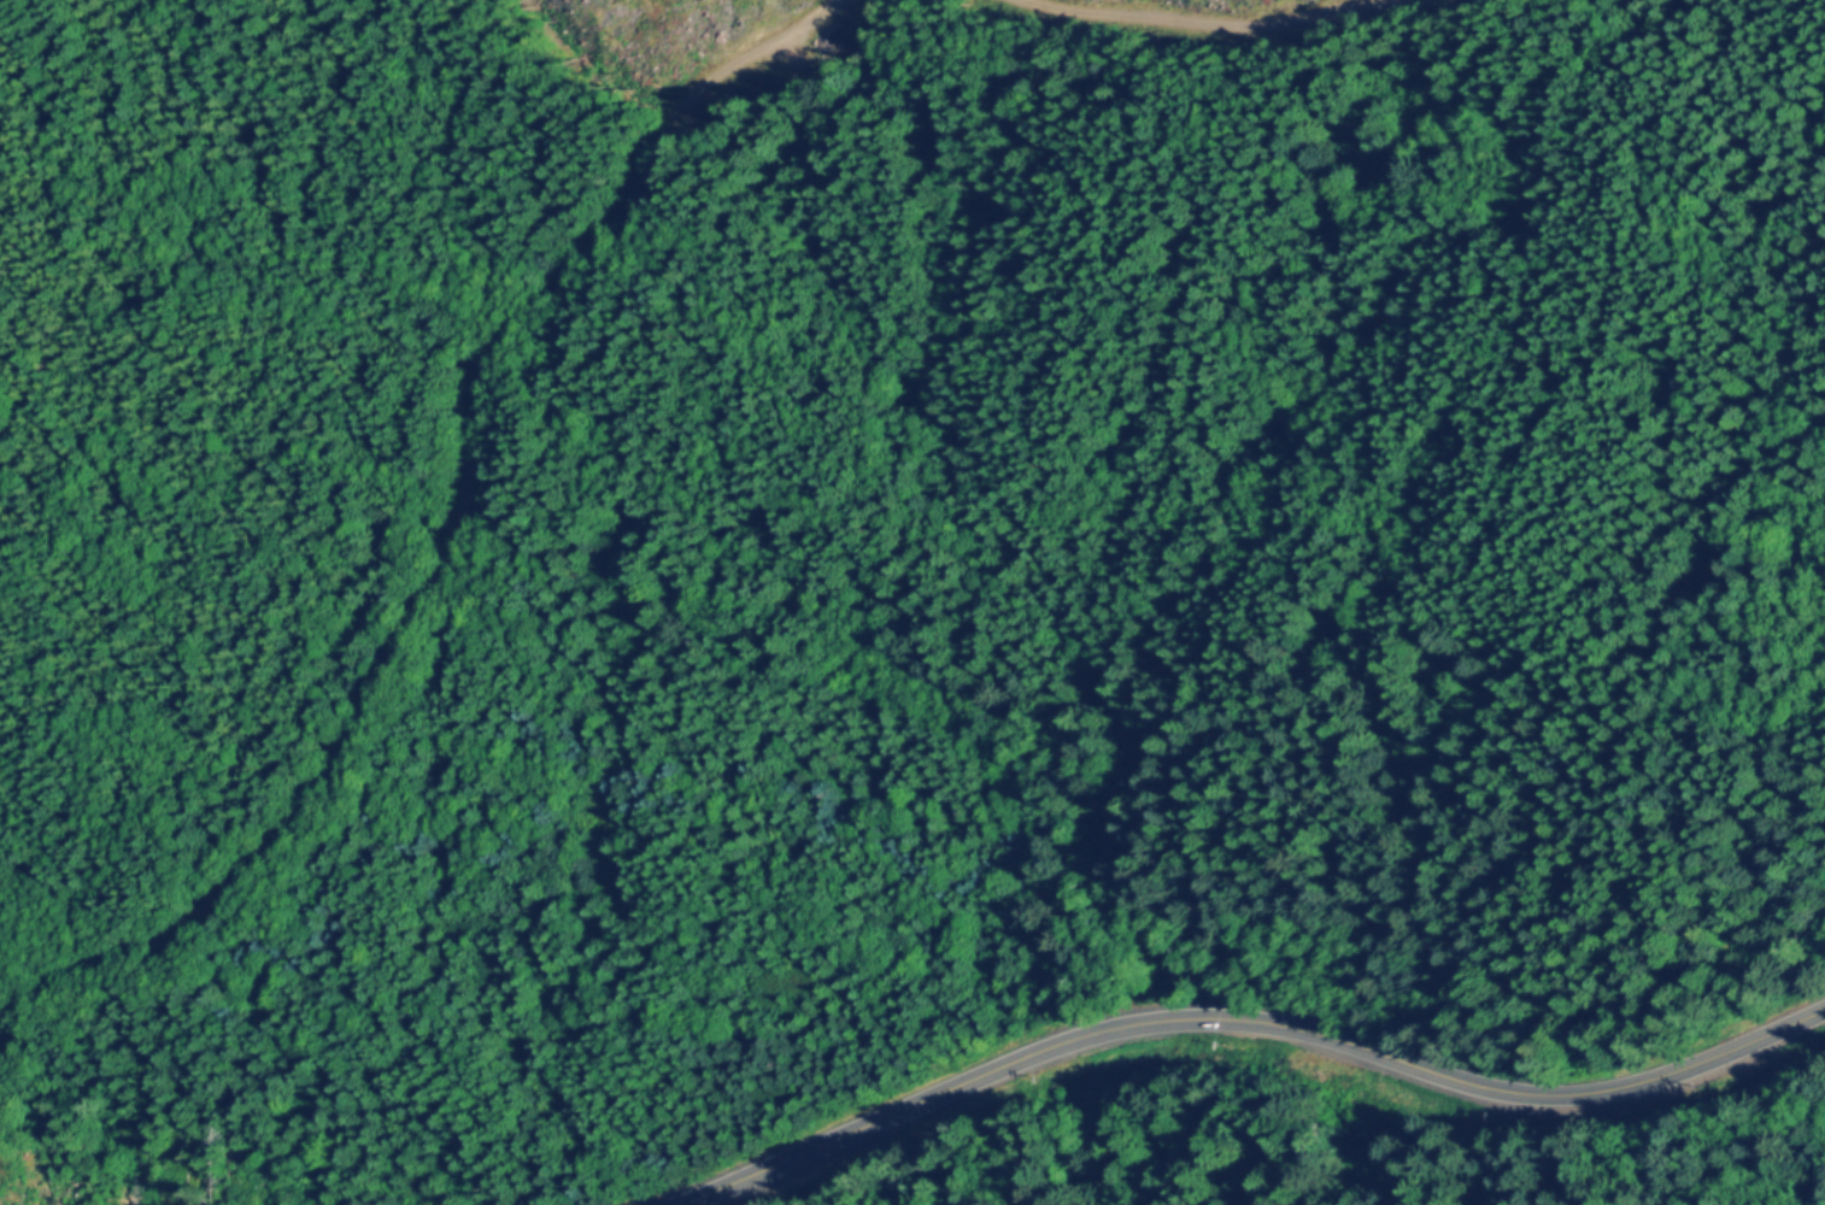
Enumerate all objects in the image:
road: (1248, 1021)

